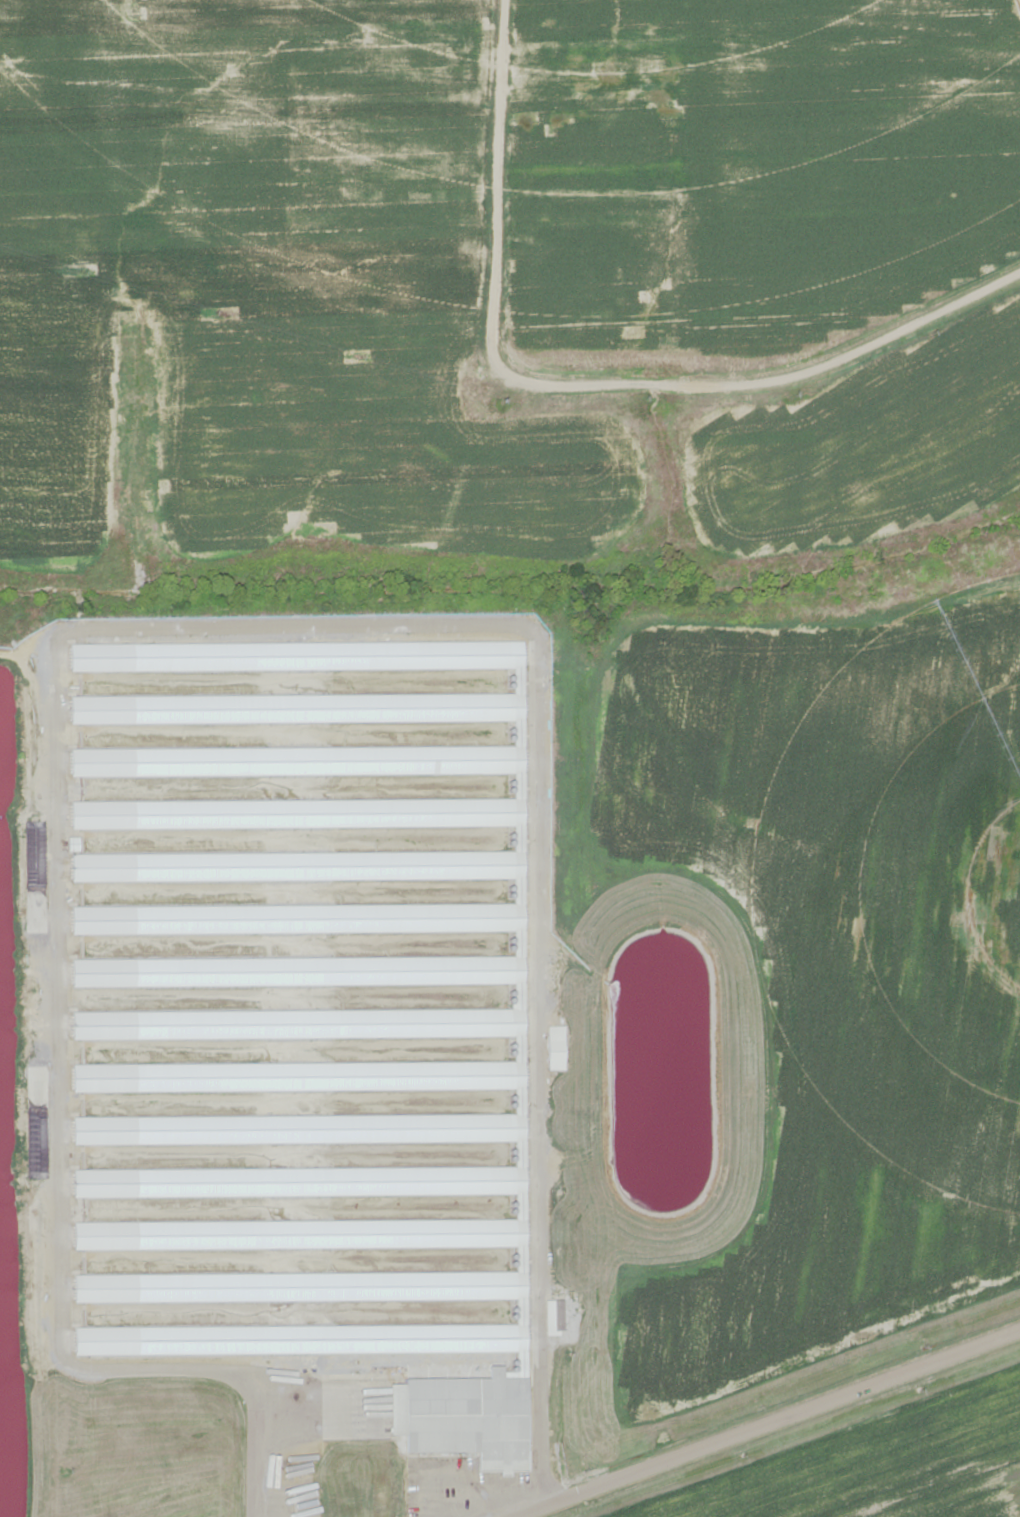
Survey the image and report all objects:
road: (602, 378)
building: (555, 1051)
road: (383, 1182)
road: (753, 1418)

